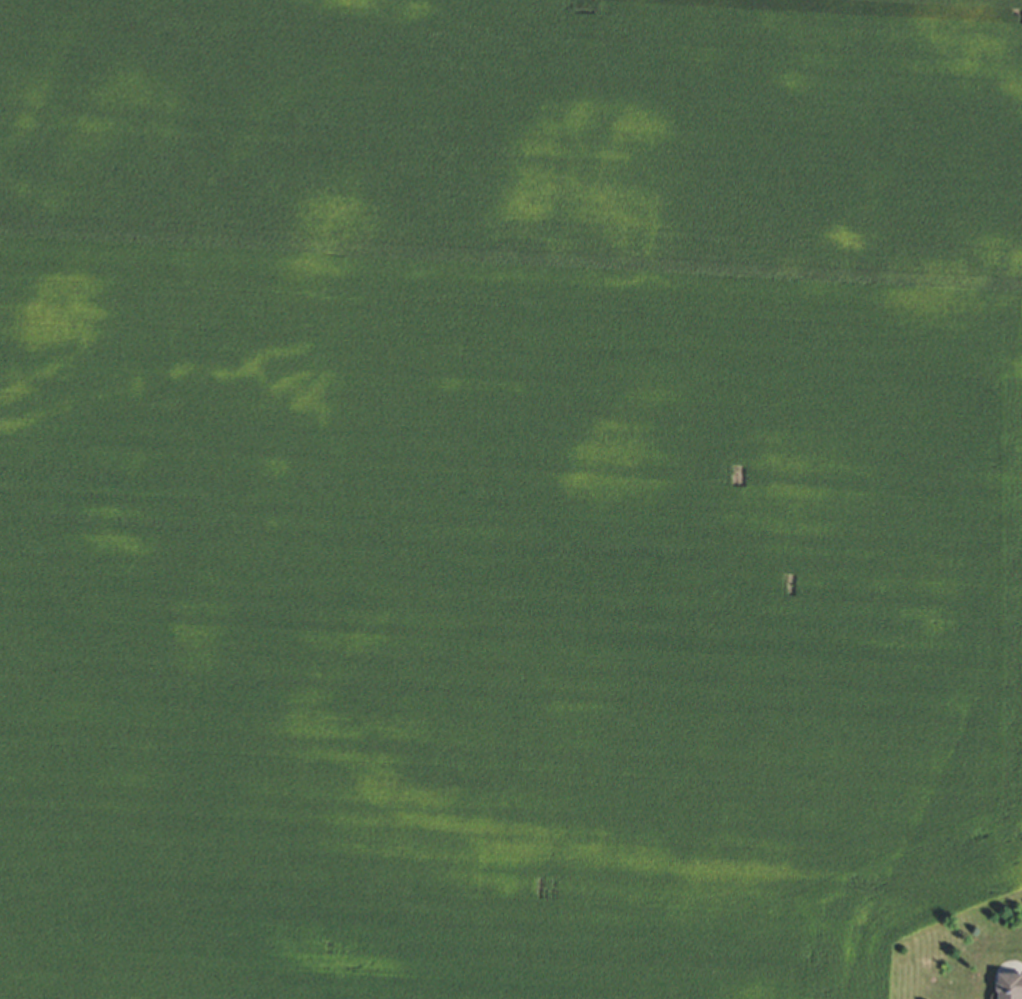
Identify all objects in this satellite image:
building: (1006, 988)

